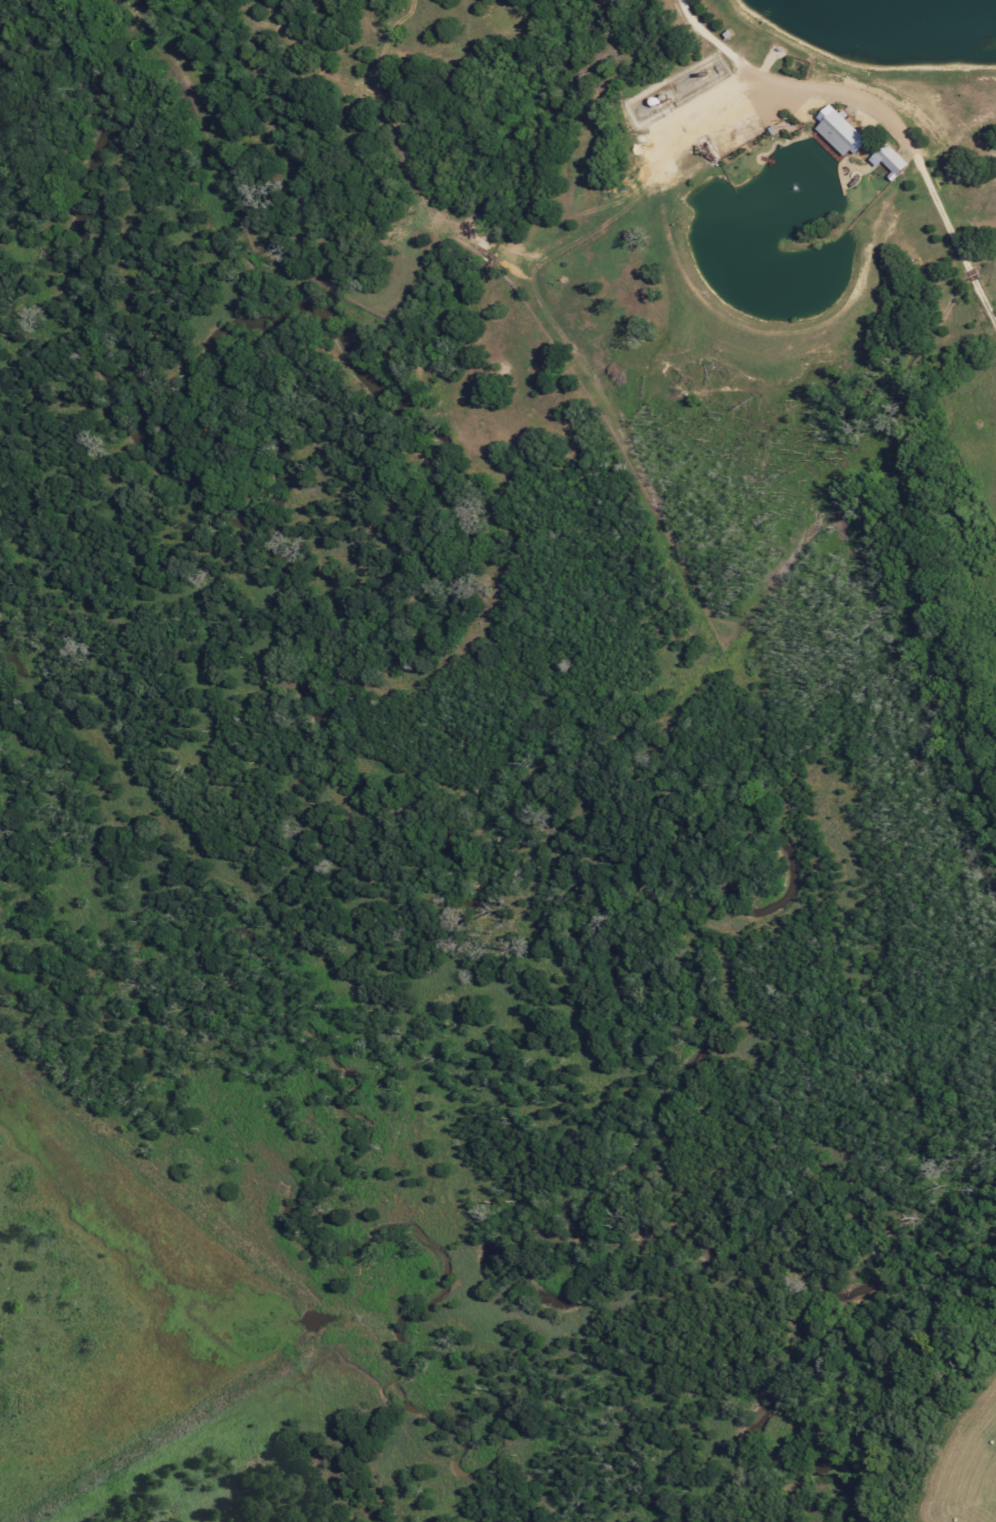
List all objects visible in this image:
building: (845, 133)
petroleum well: (707, 153)
building: (895, 161)

